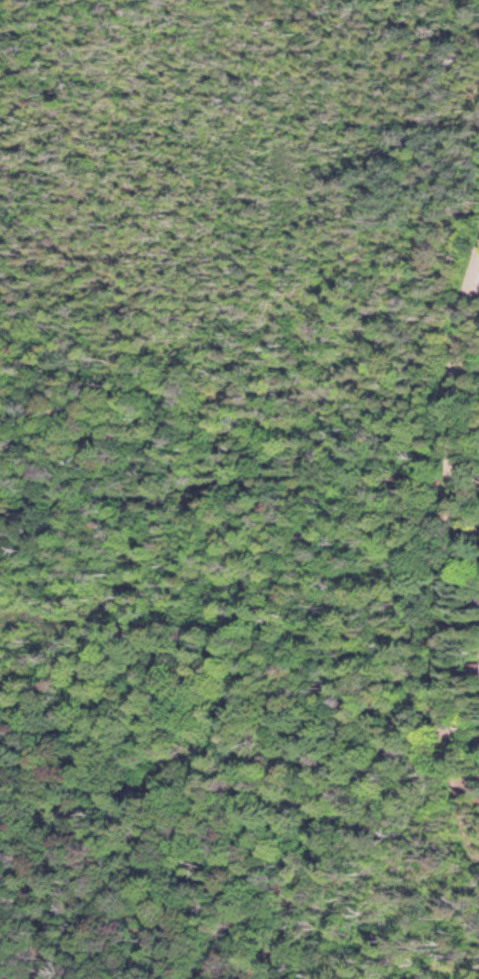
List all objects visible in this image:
road: (449, 354)
road: (435, 671)

